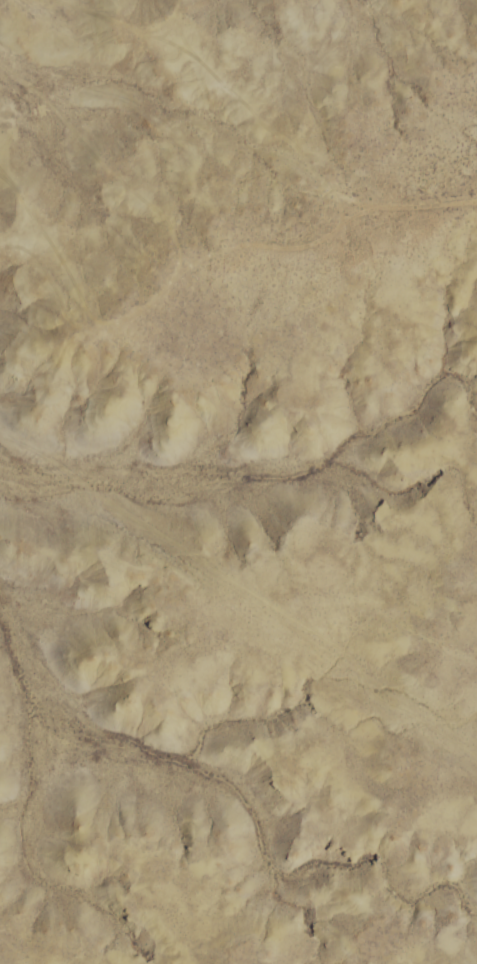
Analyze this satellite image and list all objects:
road: (367, 24)

